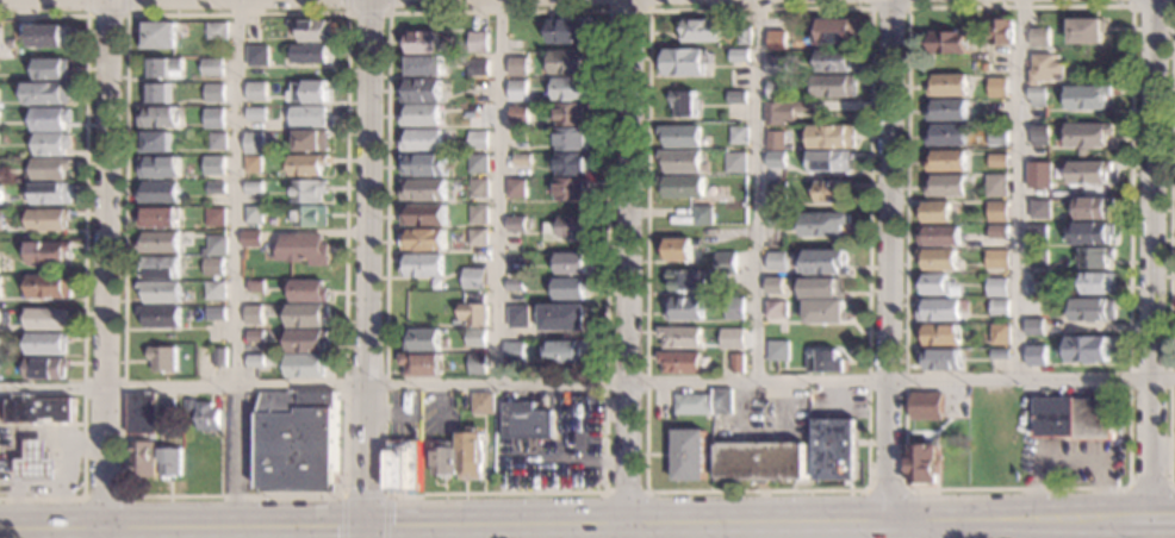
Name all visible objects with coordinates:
road: (1152, 6)
road: (889, 7)
road: (649, 8)
road: (628, 10)
road: (366, 12)
road: (128, 14)
road: (107, 15)
building: (700, 30)
building: (1002, 30)
building: (217, 31)
building: (316, 31)
building: (570, 31)
building: (834, 31)
building: (1086, 31)
building: (0, 32)
building: (253, 33)
building: (160, 35)
building: (744, 35)
building: (49, 36)
building: (1034, 36)
building: (776, 39)
building: (478, 42)
building: (422, 43)
building: (949, 43)
building: (12, 54)
building: (310, 54)
building: (257, 55)
building: (739, 55)
building: (835, 60)
building: (571, 62)
building: (685, 62)
building: (425, 65)
building: (778, 65)
building: (212, 67)
building: (516, 67)
building: (984, 67)
building: (54, 68)
building: (167, 68)
building: (477, 68)
building: (1045, 68)
building: (478, 85)
building: (949, 85)
building: (834, 86)
building: (997, 87)
building: (255, 88)
building: (570, 88)
building: (777, 89)
building: (421, 90)
building: (517, 90)
building: (310, 92)
building: (49, 93)
building: (160, 93)
building: (215, 93)
building: (736, 96)
building: (1038, 96)
building: (1088, 96)
building: (684, 104)
building: (537, 107)
building: (947, 110)
building: (784, 111)
building: (217, 112)
building: (517, 113)
building: (572, 113)
building: (256, 114)
building: (421, 114)
building: (0, 115)
building: (309, 115)
building: (158, 118)
building: (51, 119)
building: (739, 134)
building: (947, 134)
building: (1039, 134)
building: (1088, 134)
building: (682, 136)
building: (831, 136)
building: (259, 137)
building: (997, 138)
building: (422, 139)
building: (477, 139)
building: (572, 139)
building: (776, 139)
building: (218, 140)
building: (156, 142)
building: (312, 142)
building: (52, 144)
building: (522, 159)
building: (680, 159)
building: (776, 159)
building: (829, 161)
building: (946, 161)
building: (997, 161)
building: (735, 162)
building: (253, 163)
building: (478, 163)
building: (572, 163)
building: (217, 165)
building: (307, 165)
building: (424, 165)
building: (161, 167)
building: (51, 169)
building: (1088, 171)
building: (1038, 175)
building: (996, 184)
building: (682, 186)
building: (947, 186)
building: (254, 187)
building: (217, 188)
building: (478, 188)
building: (516, 188)
building: (423, 189)
building: (571, 189)
road: (1019, 189)
building: (309, 190)
building: (776, 190)
building: (160, 192)
road: (496, 192)
road: (758, 192)
building: (831, 192)
building: (0, 193)
building: (49, 193)
road: (237, 193)
building: (1039, 208)
building: (1095, 208)
building: (935, 212)
building: (254, 213)
building: (999, 213)
building: (423, 214)
building: (478, 214)
building: (311, 215)
building: (703, 215)
building: (160, 217)
building: (216, 217)
building: (773, 218)
building: (1, 219)
building: (49, 220)
building: (823, 223)
building: (515, 224)
building: (571, 227)
building: (997, 231)
building: (1092, 232)
building: (1037, 233)
building: (478, 237)
building: (939, 237)
building: (251, 238)
building: (423, 239)
building: (160, 242)
building: (217, 245)
building: (301, 249)
building: (677, 250)
road: (1170, 250)
building: (49, 252)
road: (83, 252)
building: (1037, 257)
building: (1098, 257)
building: (938, 258)
building: (997, 258)
road: (1152, 258)
building: (777, 261)
building: (826, 261)
road: (887, 262)
building: (571, 263)
road: (624, 263)
building: (726, 263)
building: (421, 265)
building: (160, 267)
building: (215, 267)
road: (105, 269)
road: (368, 269)
building: (0, 277)
building: (473, 279)
building: (689, 279)
building: (933, 283)
building: (1098, 283)
building: (514, 284)
building: (775, 286)
building: (50, 287)
building: (255, 287)
building: (996, 287)
building: (571, 288)
building: (823, 288)
building: (1036, 288)
building: (215, 290)
building: (307, 290)
building: (956, 290)
building: (161, 292)
building: (734, 307)
building: (999, 307)
building: (685, 308)
building: (776, 308)
building: (1093, 308)
building: (938, 309)
building: (254, 311)
building: (474, 311)
building: (216, 314)
building: (827, 314)
building: (161, 315)
building: (305, 315)
building: (518, 317)
building: (562, 317)
building: (46, 318)
building: (1033, 327)
building: (1000, 333)
building: (939, 334)
building: (255, 336)
building: (475, 337)
building: (680, 337)
building: (732, 338)
building: (422, 339)
building: (306, 340)
building: (46, 343)
building: (1088, 348)
building: (778, 350)
building: (514, 351)
building: (565, 352)
building: (1000, 354)
building: (1034, 355)
building: (218, 357)
building: (163, 358)
building: (940, 359)
building: (255, 361)
building: (825, 361)
building: (680, 362)
building: (421, 363)
building: (477, 363)
building: (740, 363)
building: (306, 365)
building: (46, 368)
road: (586, 383)
building: (722, 400)
building: (483, 402)
parking lot: (839, 402)
building: (691, 403)
building: (188, 406)
building: (926, 406)
building: (167, 409)
building: (38, 411)
building: (142, 412)
parking lot: (765, 414)
building: (206, 417)
building: (1075, 418)
building: (524, 420)
parking lot: (1173, 434)
building: (298, 439)
road: (17, 440)
parking lot: (242, 443)
parking lot: (559, 448)
building: (834, 449)
building: (471, 455)
building: (689, 455)
road: (1163, 455)
road: (234, 457)
building: (444, 458)
building: (143, 459)
building: (760, 461)
parking lot: (1069, 461)
building: (170, 462)
building: (37, 463)
building: (924, 465)
building: (404, 467)
road: (60, 486)
road: (1126, 487)
road: (1146, 487)
road: (883, 488)
road: (624, 490)
road: (603, 492)
road: (363, 494)
road: (101, 496)
road: (1163, 517)
road: (1018, 519)
road: (1163, 523)
road: (442, 526)
road: (1149, 527)
traffic signals: (367, 528)
road: (1007, 528)
road: (1095, 528)
road: (915, 530)
road: (627, 532)
road: (741, 532)

